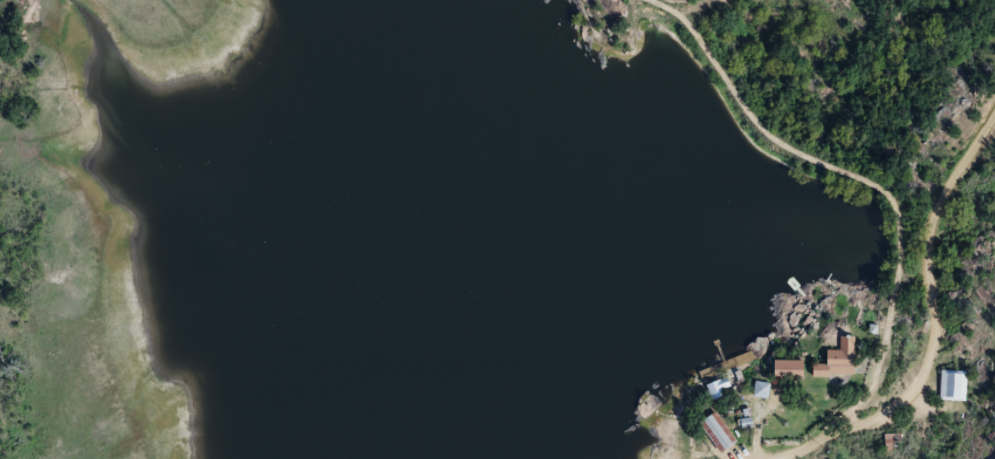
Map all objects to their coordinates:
dam: (743, 108)
road: (883, 109)
road: (929, 314)
building: (839, 359)
building: (789, 368)
building: (953, 386)
building: (718, 389)
building: (762, 390)
building: (651, 404)
building: (718, 432)

